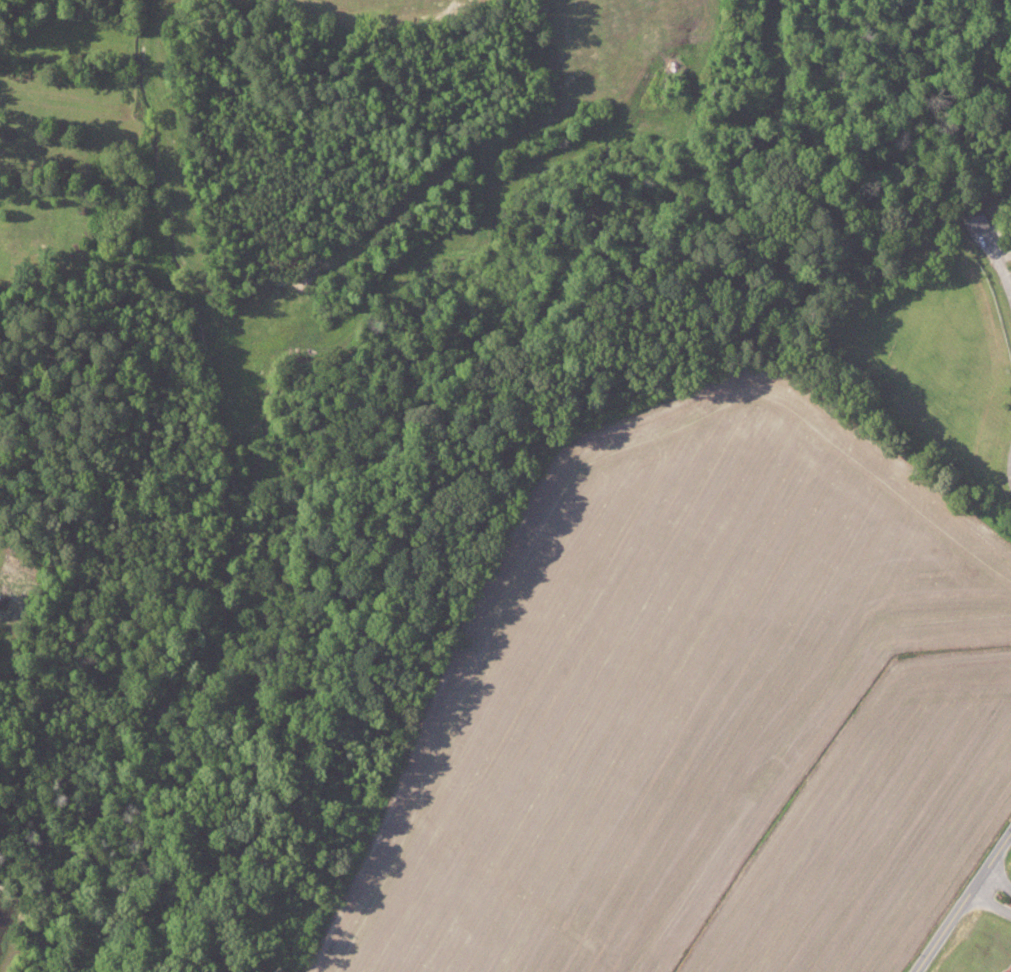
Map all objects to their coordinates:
building: (972, 222)
road: (1010, 468)
road: (993, 893)
road: (964, 900)
building: (1005, 968)

